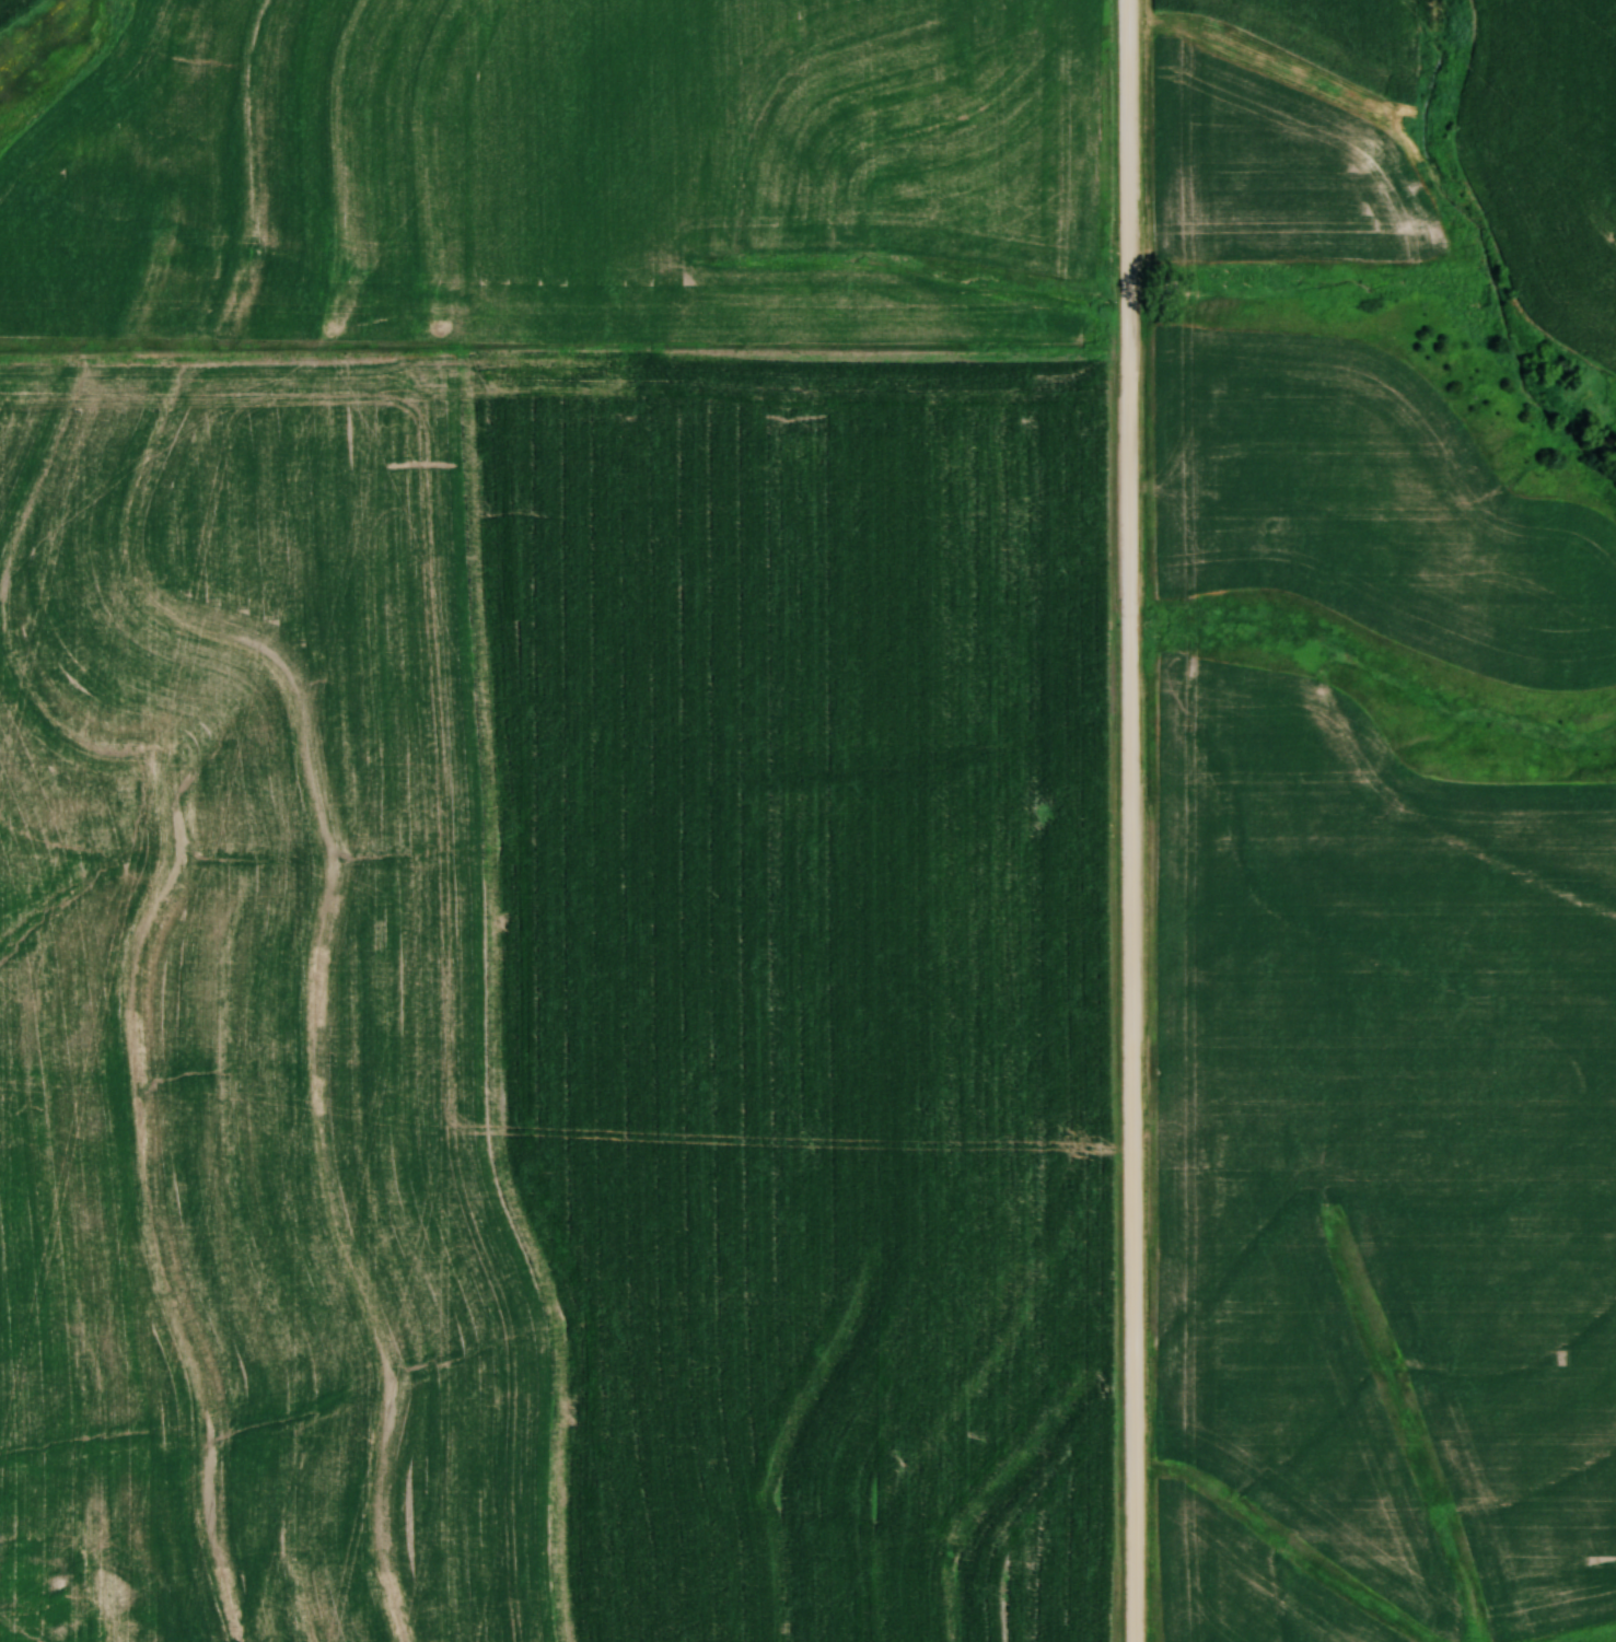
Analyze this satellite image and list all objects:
road: (1132, 820)

